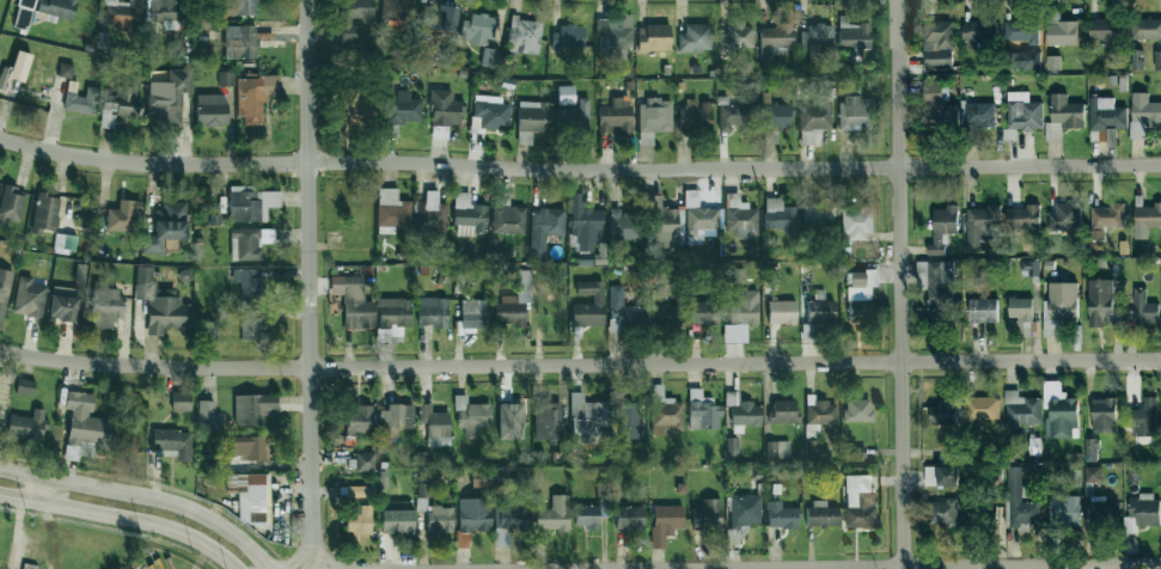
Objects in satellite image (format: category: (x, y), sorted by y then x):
building: (57, 7)
building: (248, 7)
building: (165, 10)
building: (397, 12)
building: (123, 13)
building: (28, 14)
building: (354, 18)
building: (438, 18)
building: (477, 29)
building: (1059, 29)
building: (1148, 29)
building: (1021, 31)
building: (1104, 31)
building: (978, 32)
building: (524, 36)
building: (737, 36)
building: (853, 36)
building: (568, 37)
building: (615, 37)
building: (654, 38)
building: (695, 38)
building: (245, 39)
building: (775, 39)
building: (817, 41)
building: (937, 43)
building: (489, 57)
building: (1136, 59)
building: (1027, 60)
building: (1157, 60)
building: (1052, 63)
building: (65, 71)
building: (226, 79)
building: (566, 94)
building: (253, 97)
building: (169, 98)
building: (81, 100)
building: (937, 104)
building: (118, 105)
building: (353, 105)
building: (403, 108)
building: (445, 109)
building: (210, 110)
building: (854, 111)
building: (1022, 111)
building: (1065, 111)
building: (491, 112)
building: (1100, 112)
building: (616, 115)
building: (733, 115)
building: (979, 115)
building: (1143, 115)
building: (573, 116)
building: (654, 116)
building: (695, 116)
building: (774, 116)
building: (814, 117)
building: (531, 120)
road: (579, 167)
building: (251, 203)
building: (11, 207)
building: (392, 212)
building: (45, 213)
building: (469, 213)
building: (430, 214)
building: (818, 214)
building: (698, 215)
building: (780, 215)
building: (123, 216)
building: (1108, 216)
building: (740, 218)
building: (1022, 218)
building: (508, 219)
building: (1065, 219)
building: (1145, 220)
building: (856, 221)
building: (582, 224)
building: (662, 224)
building: (624, 225)
building: (983, 226)
building: (166, 227)
building: (544, 228)
building: (942, 228)
building: (65, 243)
building: (249, 243)
building: (1028, 268)
road: (312, 280)
building: (248, 282)
road: (905, 283)
building: (4, 290)
building: (940, 290)
building: (29, 298)
building: (857, 299)
building: (352, 301)
building: (1100, 301)
building: (515, 302)
building: (1061, 302)
building: (63, 304)
building: (160, 304)
building: (104, 305)
building: (588, 305)
building: (1143, 307)
building: (621, 308)
building: (819, 308)
building: (658, 310)
building: (983, 310)
building: (781, 311)
building: (393, 312)
building: (432, 312)
building: (704, 312)
building: (472, 314)
building: (1022, 314)
building: (741, 316)
building: (250, 324)
road: (579, 365)
building: (24, 386)
building: (181, 402)
building: (253, 408)
building: (983, 408)
building: (1021, 409)
building: (857, 410)
building: (702, 411)
building: (743, 411)
building: (783, 411)
building: (1059, 411)
building: (665, 412)
building: (943, 412)
building: (1104, 415)
building: (207, 416)
building: (396, 416)
building: (472, 416)
building: (511, 417)
building: (587, 418)
building: (1144, 418)
building: (360, 420)
building: (628, 421)
building: (548, 422)
building: (26, 424)
building: (85, 424)
building: (817, 424)
building: (435, 426)
building: (173, 442)
building: (732, 446)
building: (1034, 446)
building: (244, 447)
building: (777, 449)
building: (1090, 449)
building: (363, 461)
building: (1092, 473)
building: (941, 475)
road: (39, 489)
building: (356, 491)
road: (143, 496)
building: (250, 496)
building: (421, 498)
building: (858, 501)
building: (1020, 502)
building: (1062, 504)
building: (1098, 508)
building: (942, 512)
building: (1143, 512)
building: (473, 514)
building: (552, 514)
building: (707, 514)
building: (821, 514)
building: (741, 515)
building: (781, 515)
building: (397, 516)
building: (587, 516)
building: (628, 518)
road: (123, 519)
building: (358, 519)
building: (439, 519)
building: (509, 520)
building: (665, 522)
road: (295, 559)
road: (311, 564)
road: (332, 565)
road: (854, 567)

